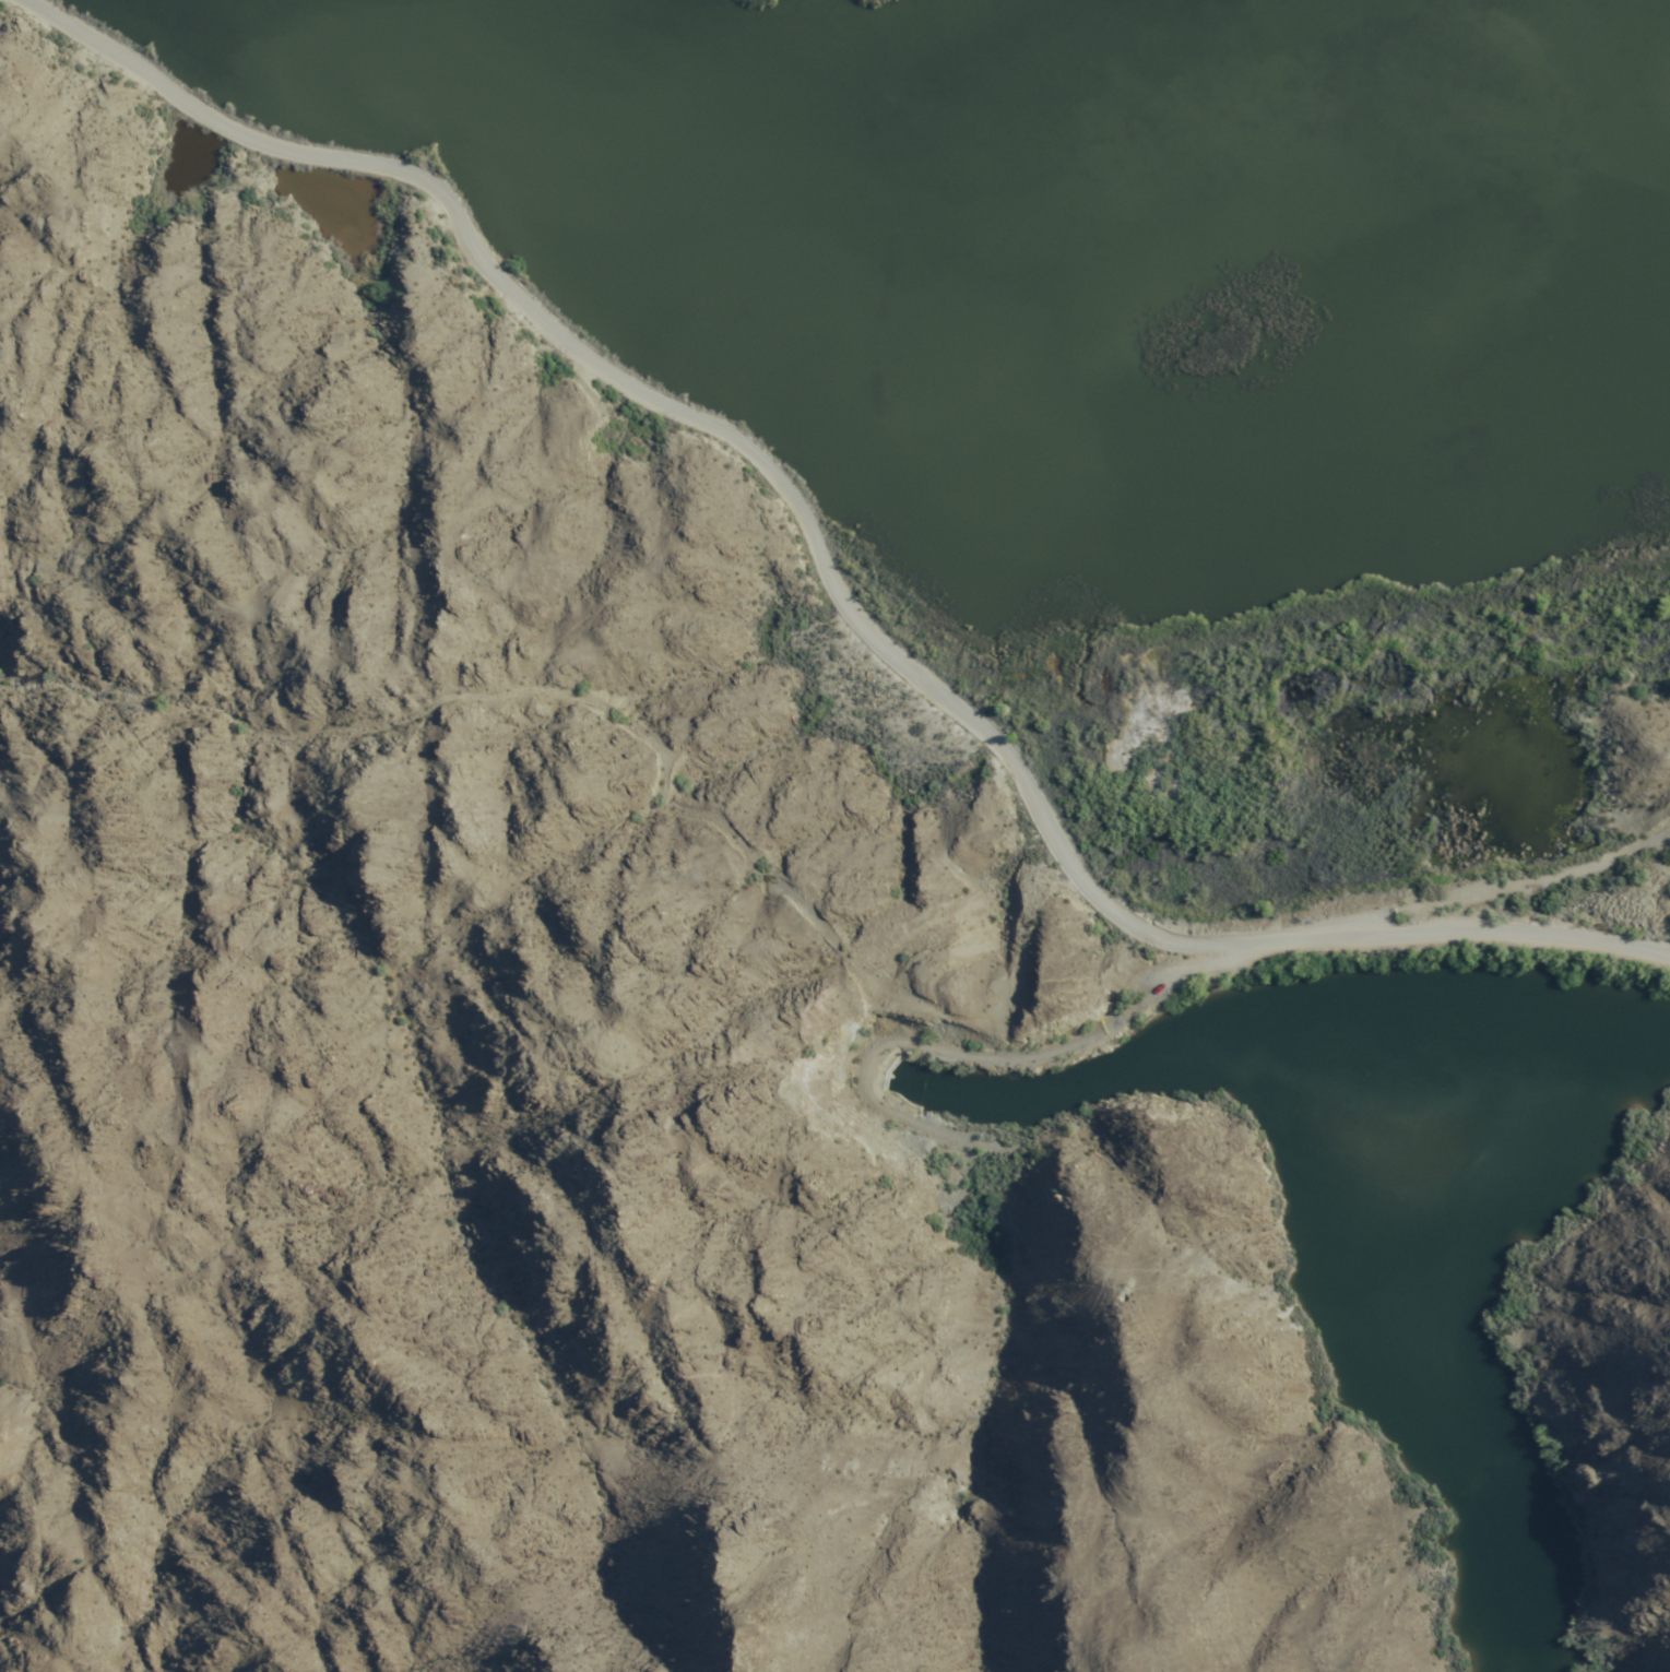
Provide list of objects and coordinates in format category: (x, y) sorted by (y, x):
road: (825, 570)
river: (442, 1001)
river: (1276, 1067)

